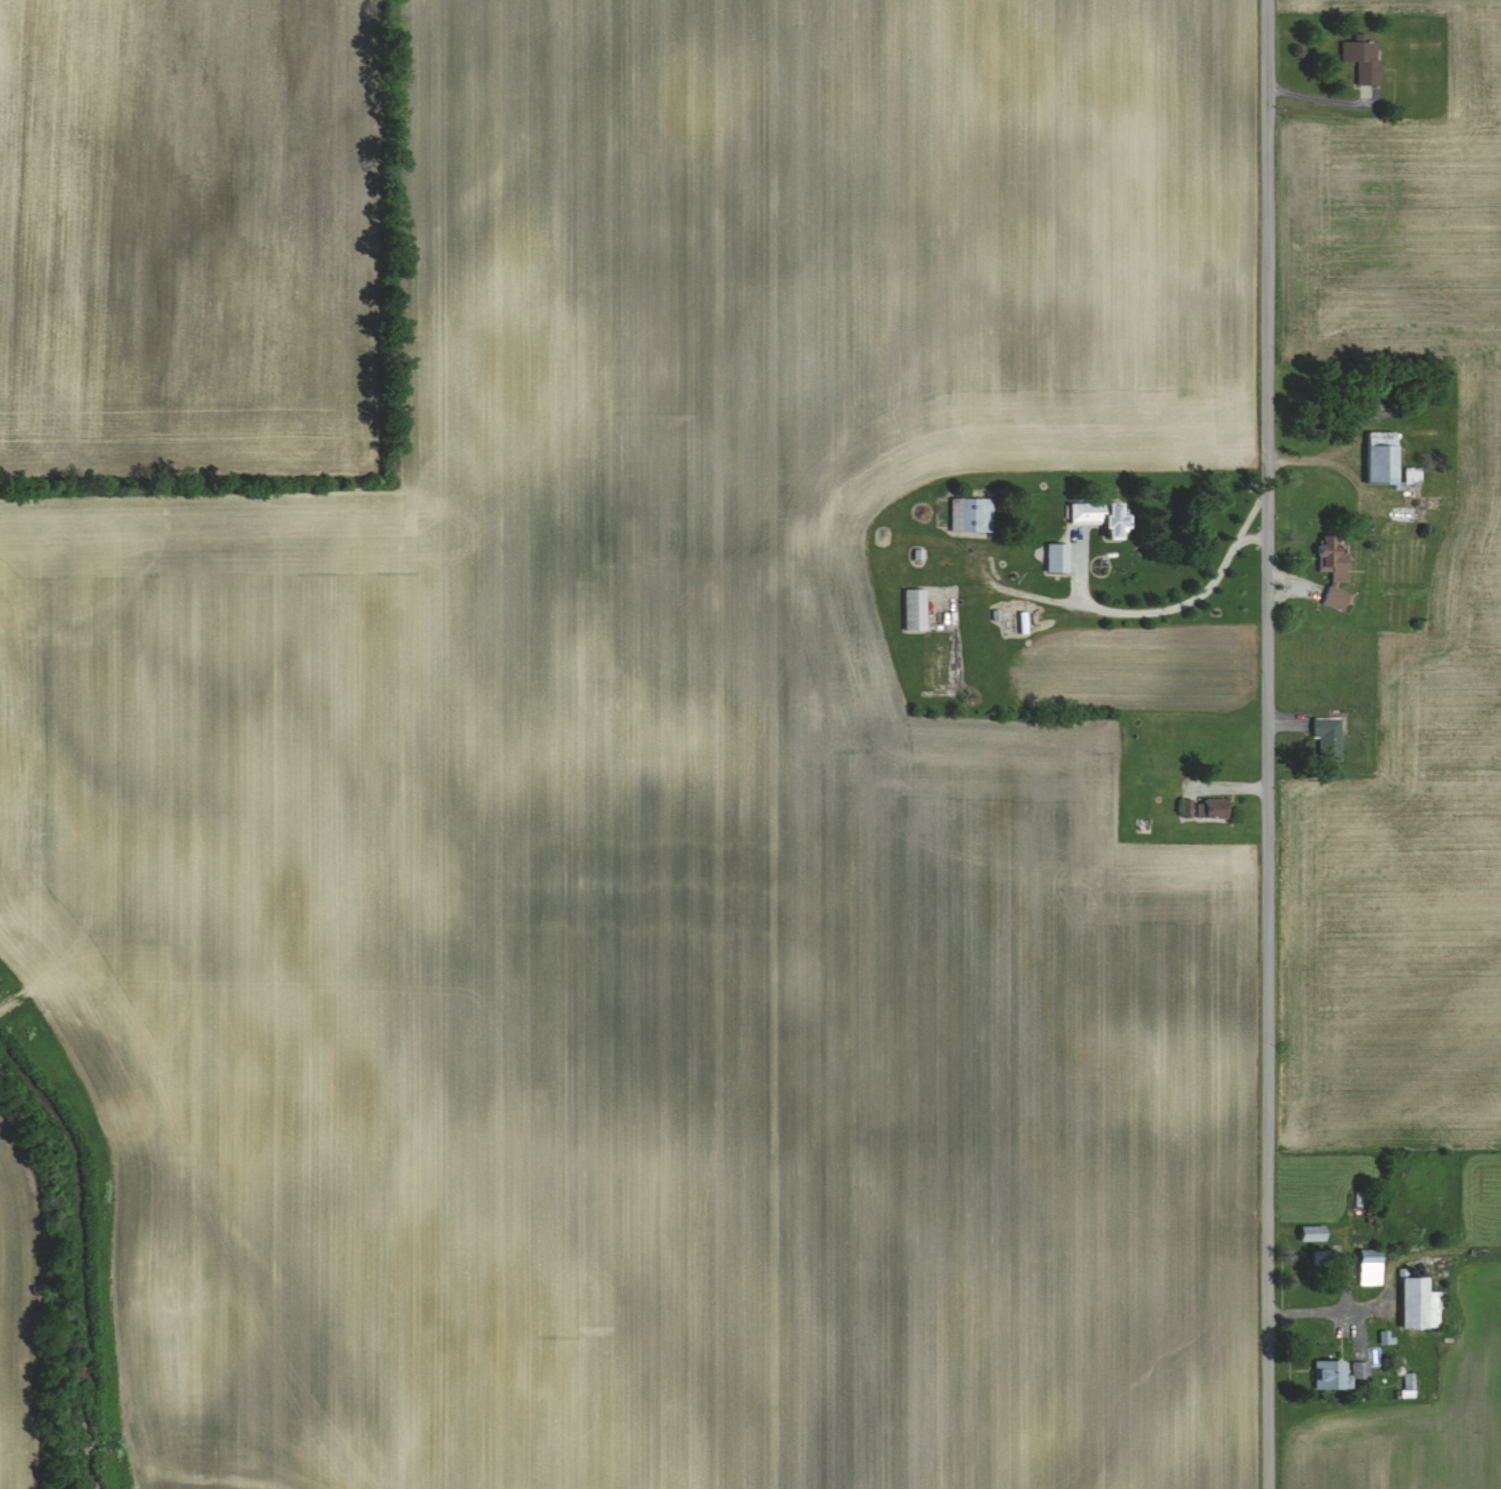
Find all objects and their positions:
building: (1361, 61)
road: (1318, 97)
building: (1379, 457)
road: (1316, 458)
building: (1411, 475)
building: (1402, 513)
building: (970, 514)
building: (1097, 517)
building: (1056, 557)
building: (1330, 571)
road: (1117, 605)
building: (914, 610)
building: (1326, 738)
road: (1266, 744)
building: (1185, 808)
building: (1213, 809)
building: (1361, 1200)
building: (1311, 1234)
building: (1319, 1258)
building: (1368, 1268)
building: (1418, 1305)
road: (1320, 1308)
building: (1337, 1375)

